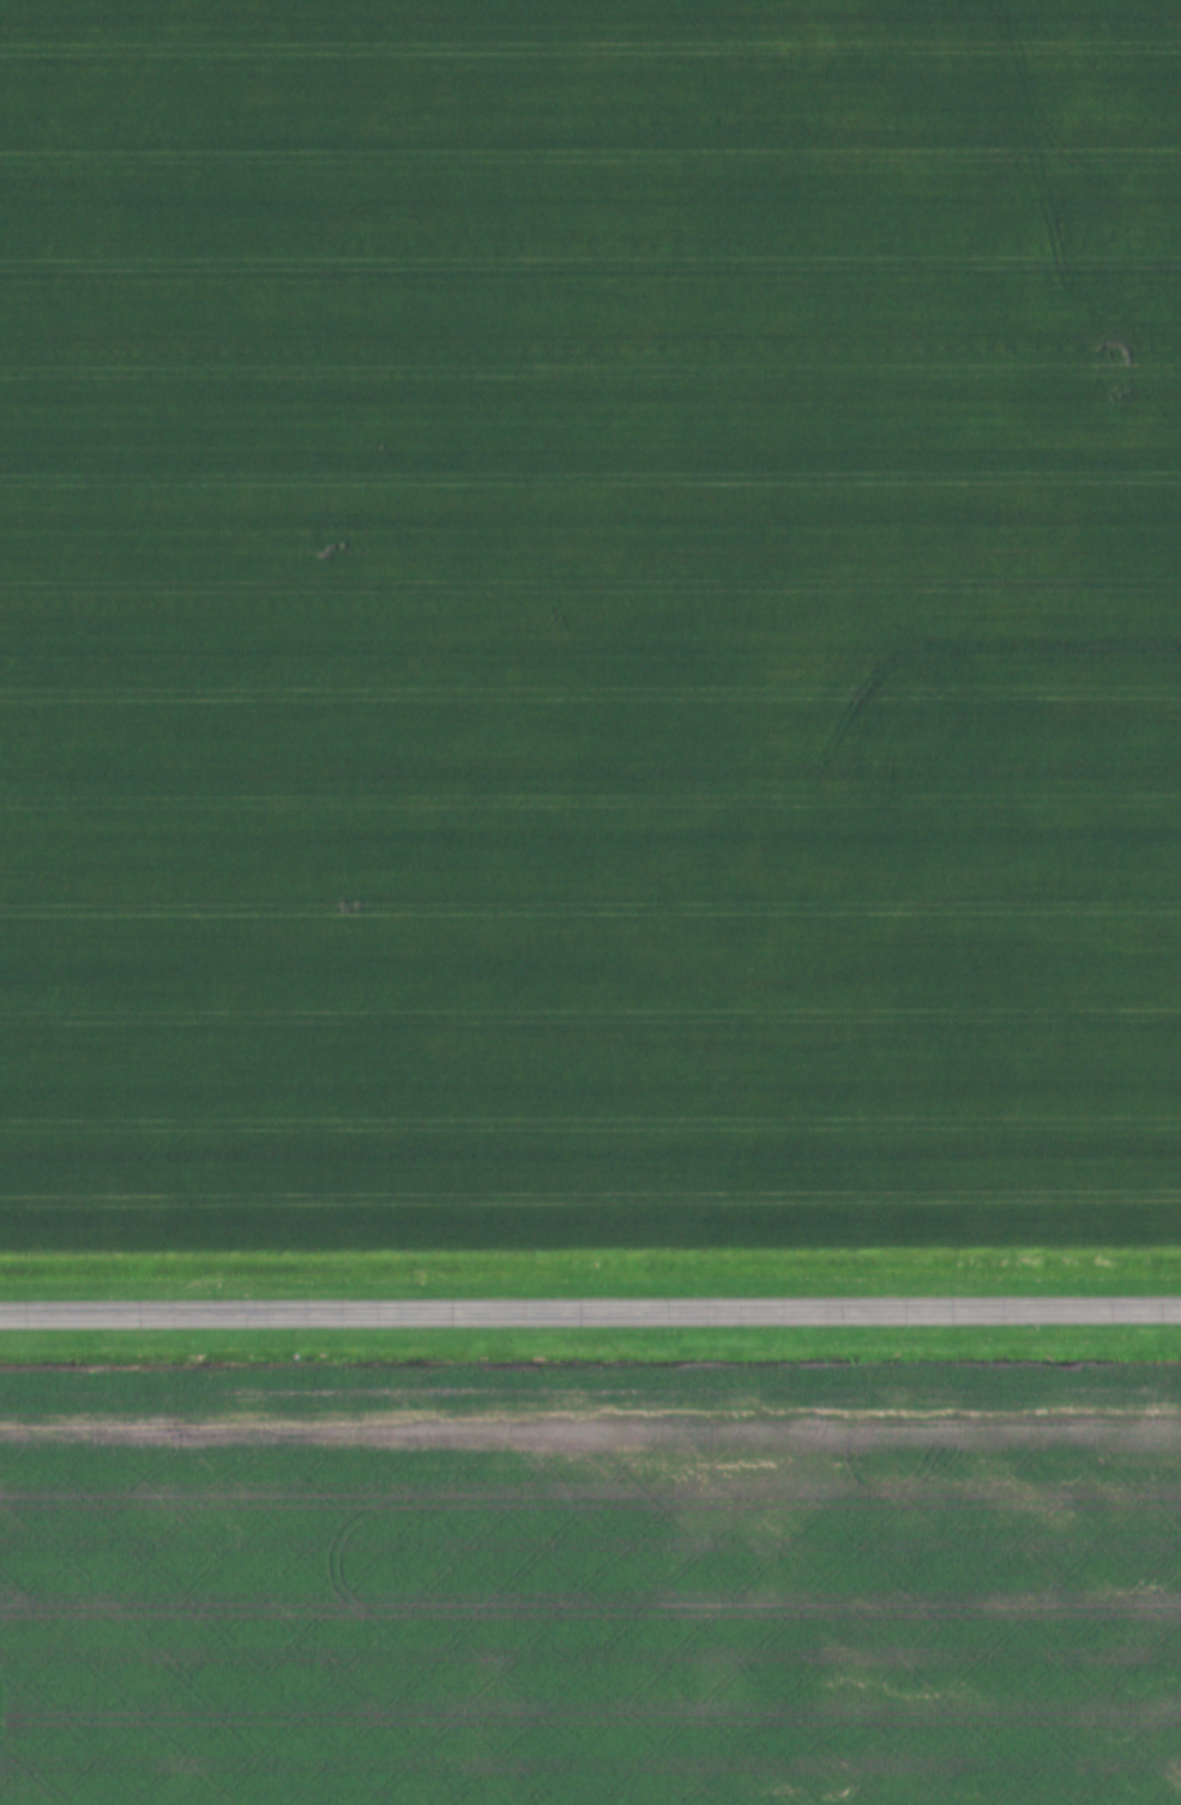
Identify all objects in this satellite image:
road: (590, 1320)
crop: (591, 1590)

